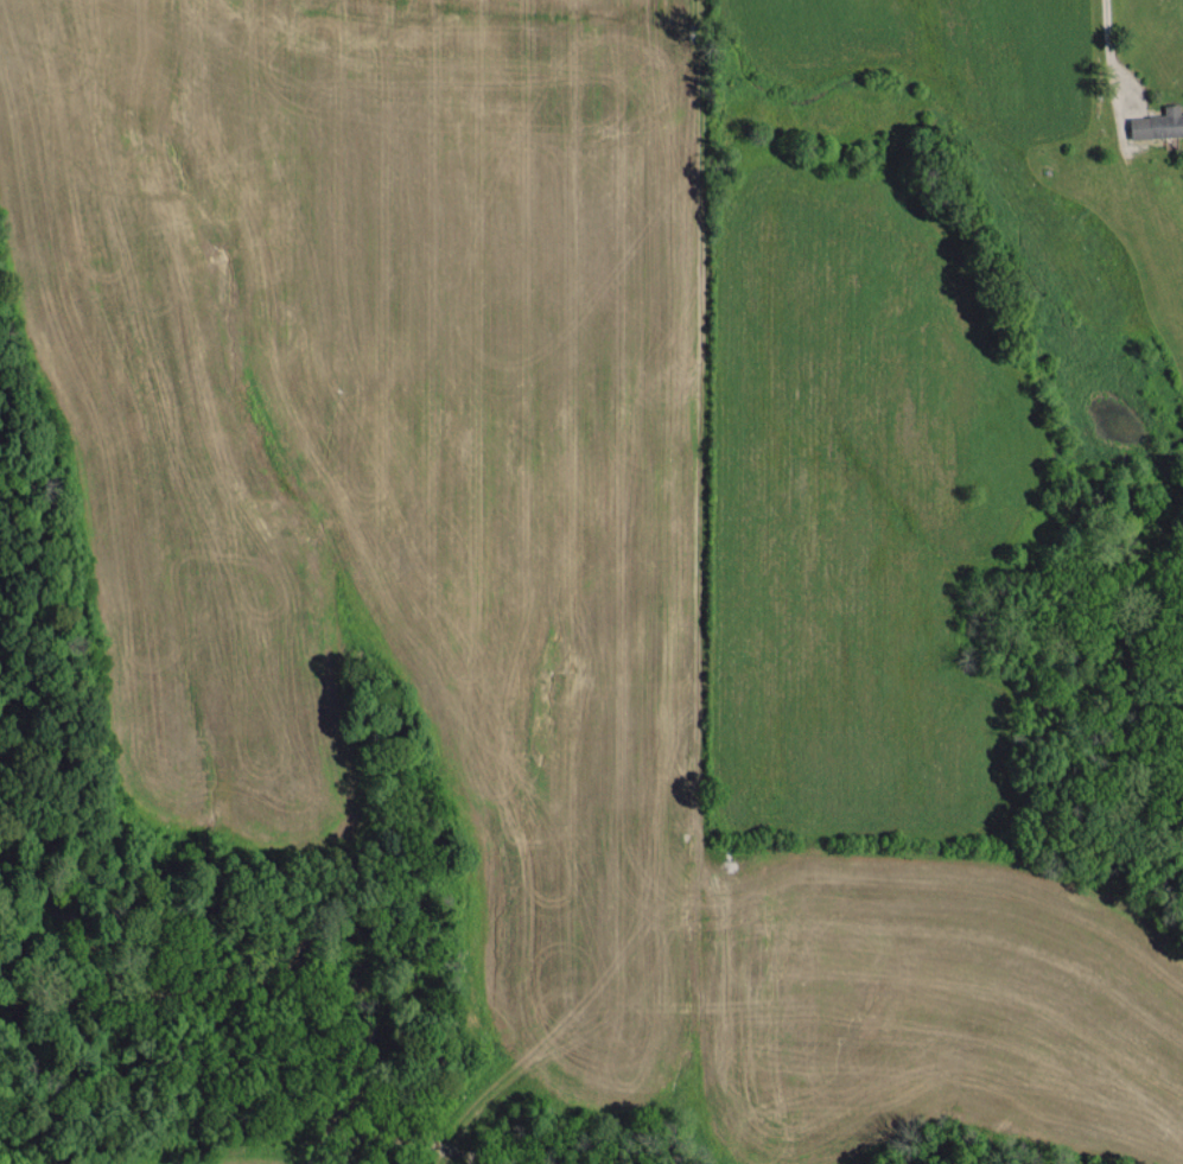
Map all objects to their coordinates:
road: (1112, 76)
building: (1158, 123)

